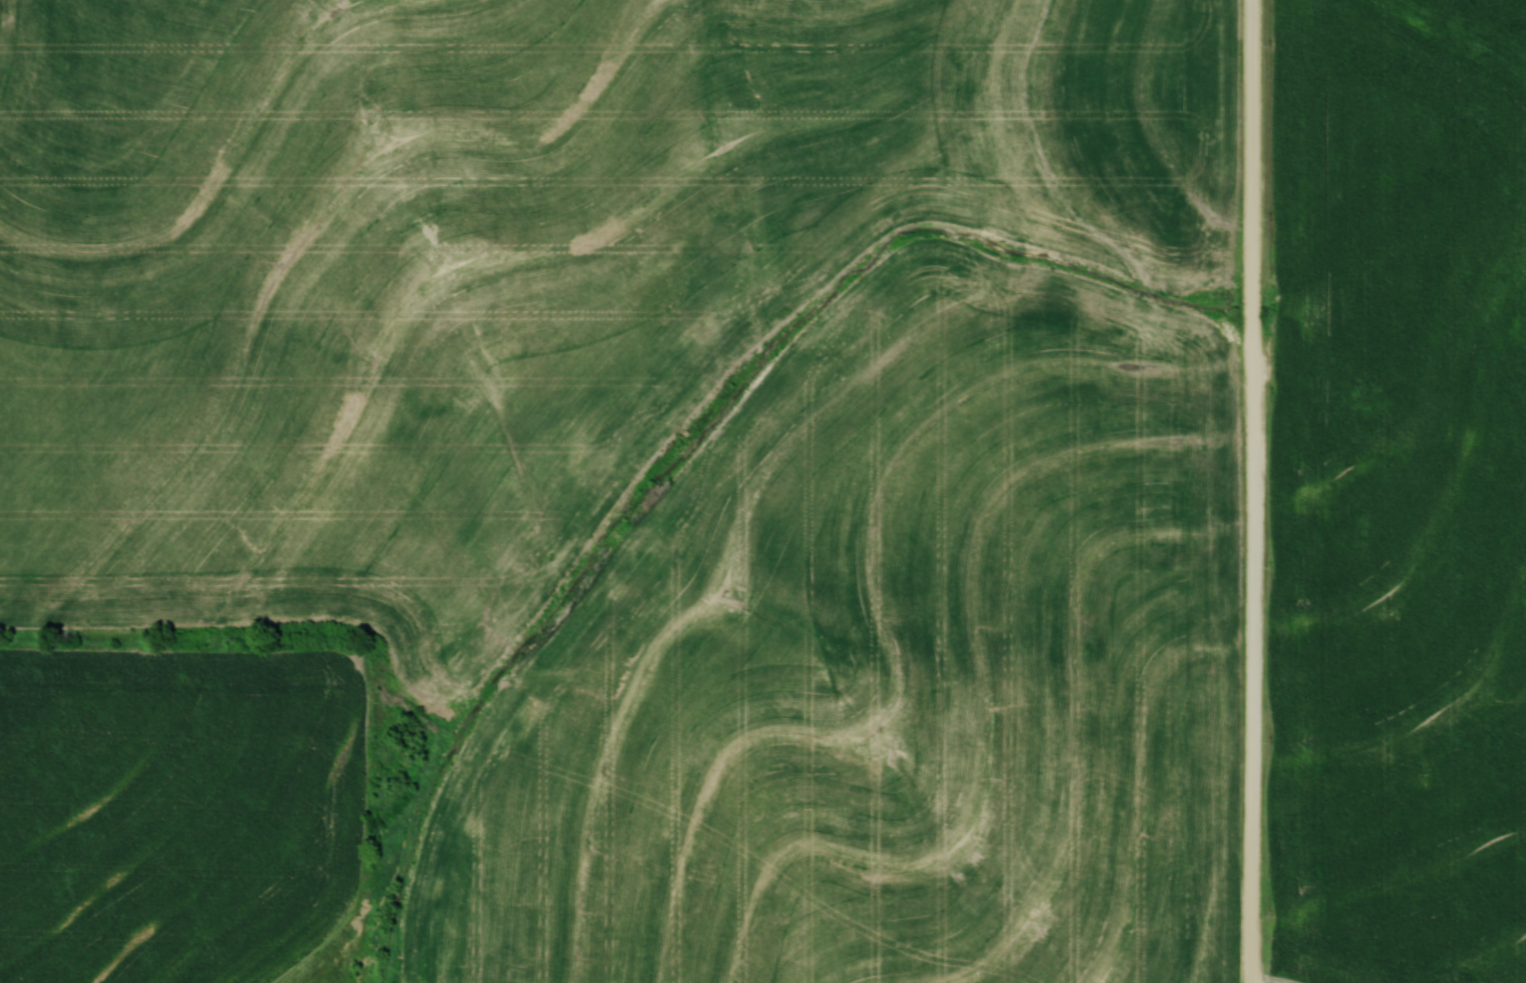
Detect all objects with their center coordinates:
road: (1255, 491)

